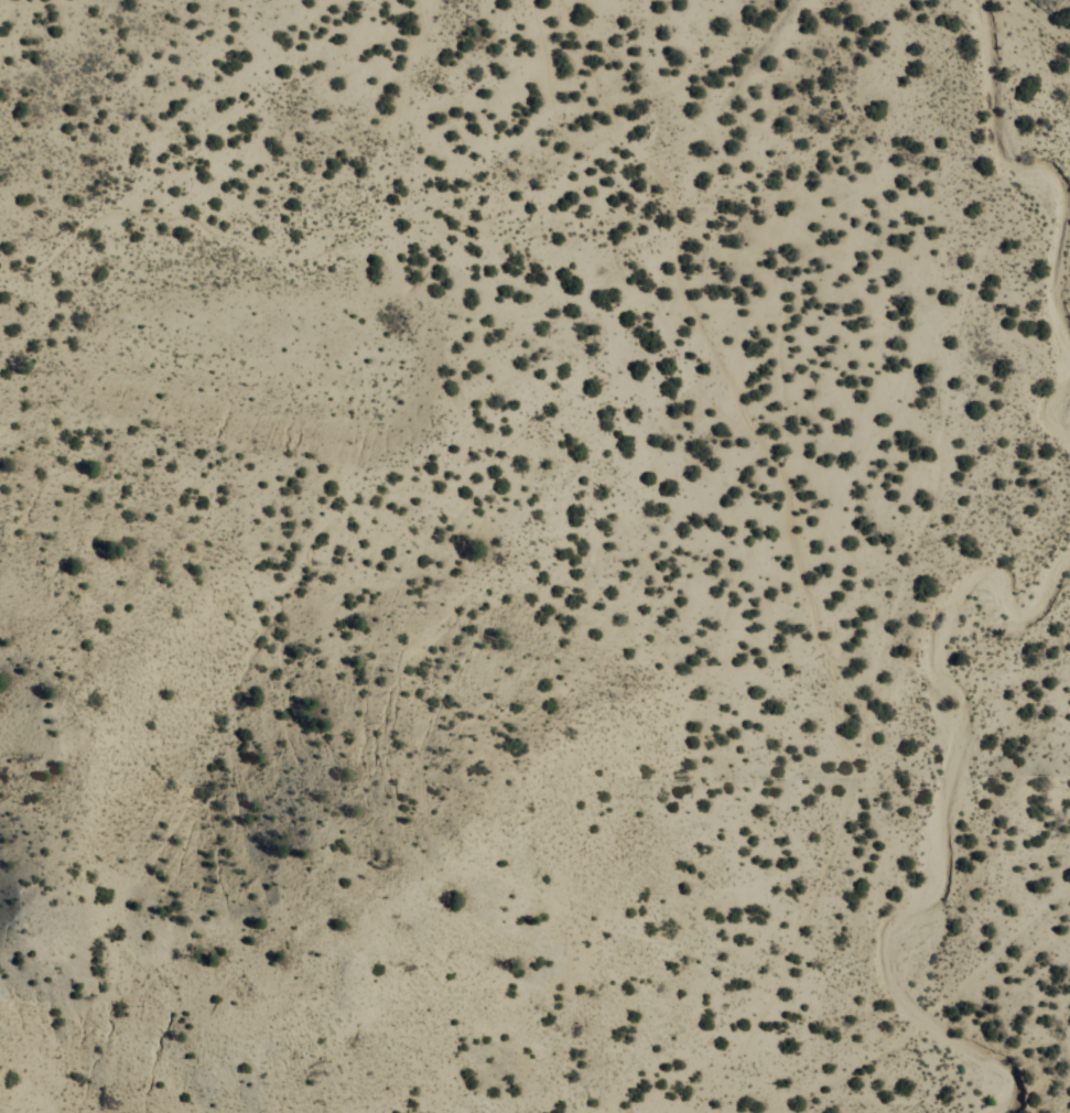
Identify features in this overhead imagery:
road: (926, 1027)

